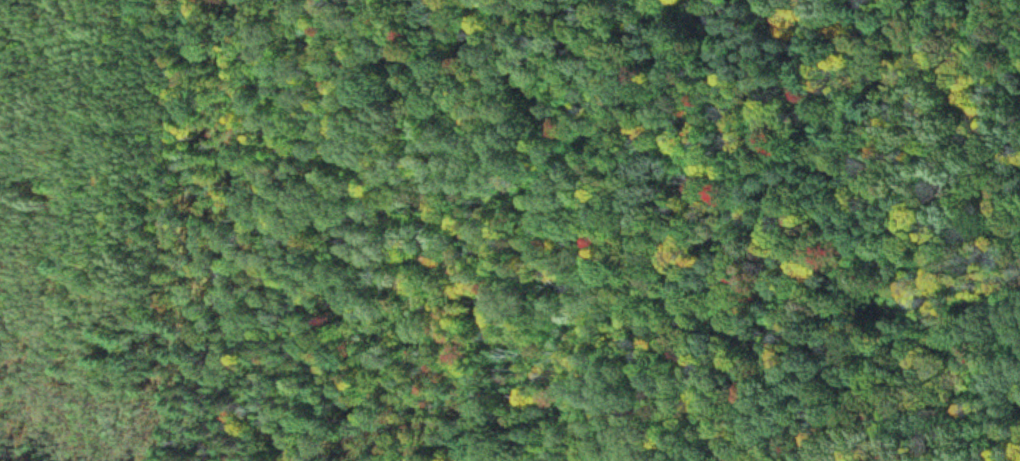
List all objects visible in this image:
park: (598, 230)

